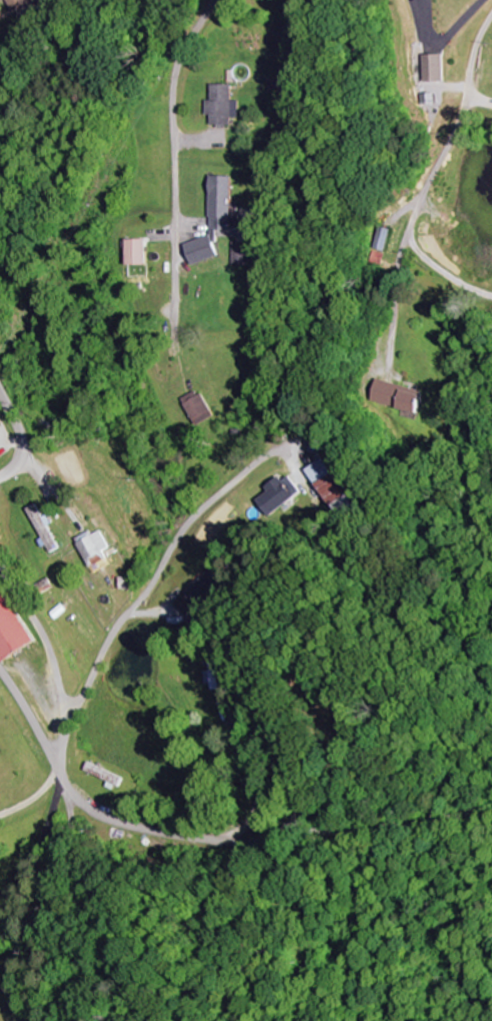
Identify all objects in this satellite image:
building: (14, 4)
road: (442, 37)
building: (428, 68)
building: (227, 105)
road: (445, 124)
road: (179, 152)
building: (217, 219)
building: (138, 251)
building: (245, 254)
road: (437, 277)
road: (397, 303)
building: (397, 395)
building: (199, 407)
road: (21, 433)
building: (336, 487)
building: (284, 494)
building: (44, 528)
building: (96, 547)
building: (204, 592)
road: (145, 597)
building: (11, 629)
road: (42, 636)
building: (219, 675)
park: (322, 689)
road: (31, 721)
road: (346, 778)
road: (261, 785)
road: (32, 799)
road: (77, 799)
road: (380, 830)
road: (184, 837)
road: (38, 852)
road: (54, 904)

